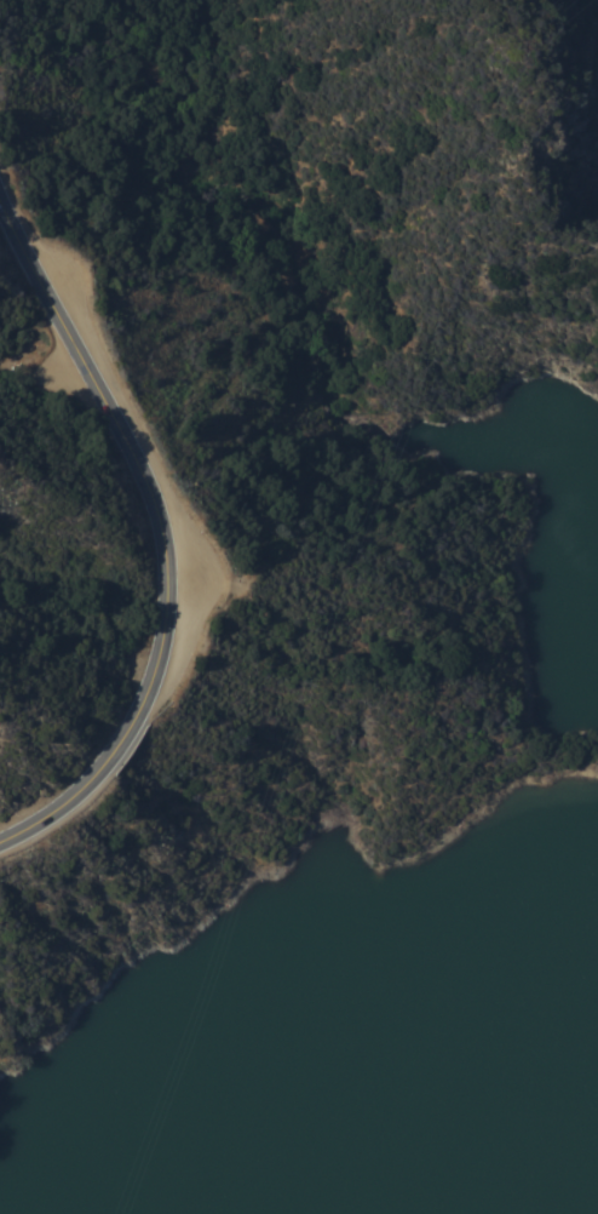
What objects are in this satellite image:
road: (159, 534)
parking lot: (191, 589)
river: (450, 1212)

